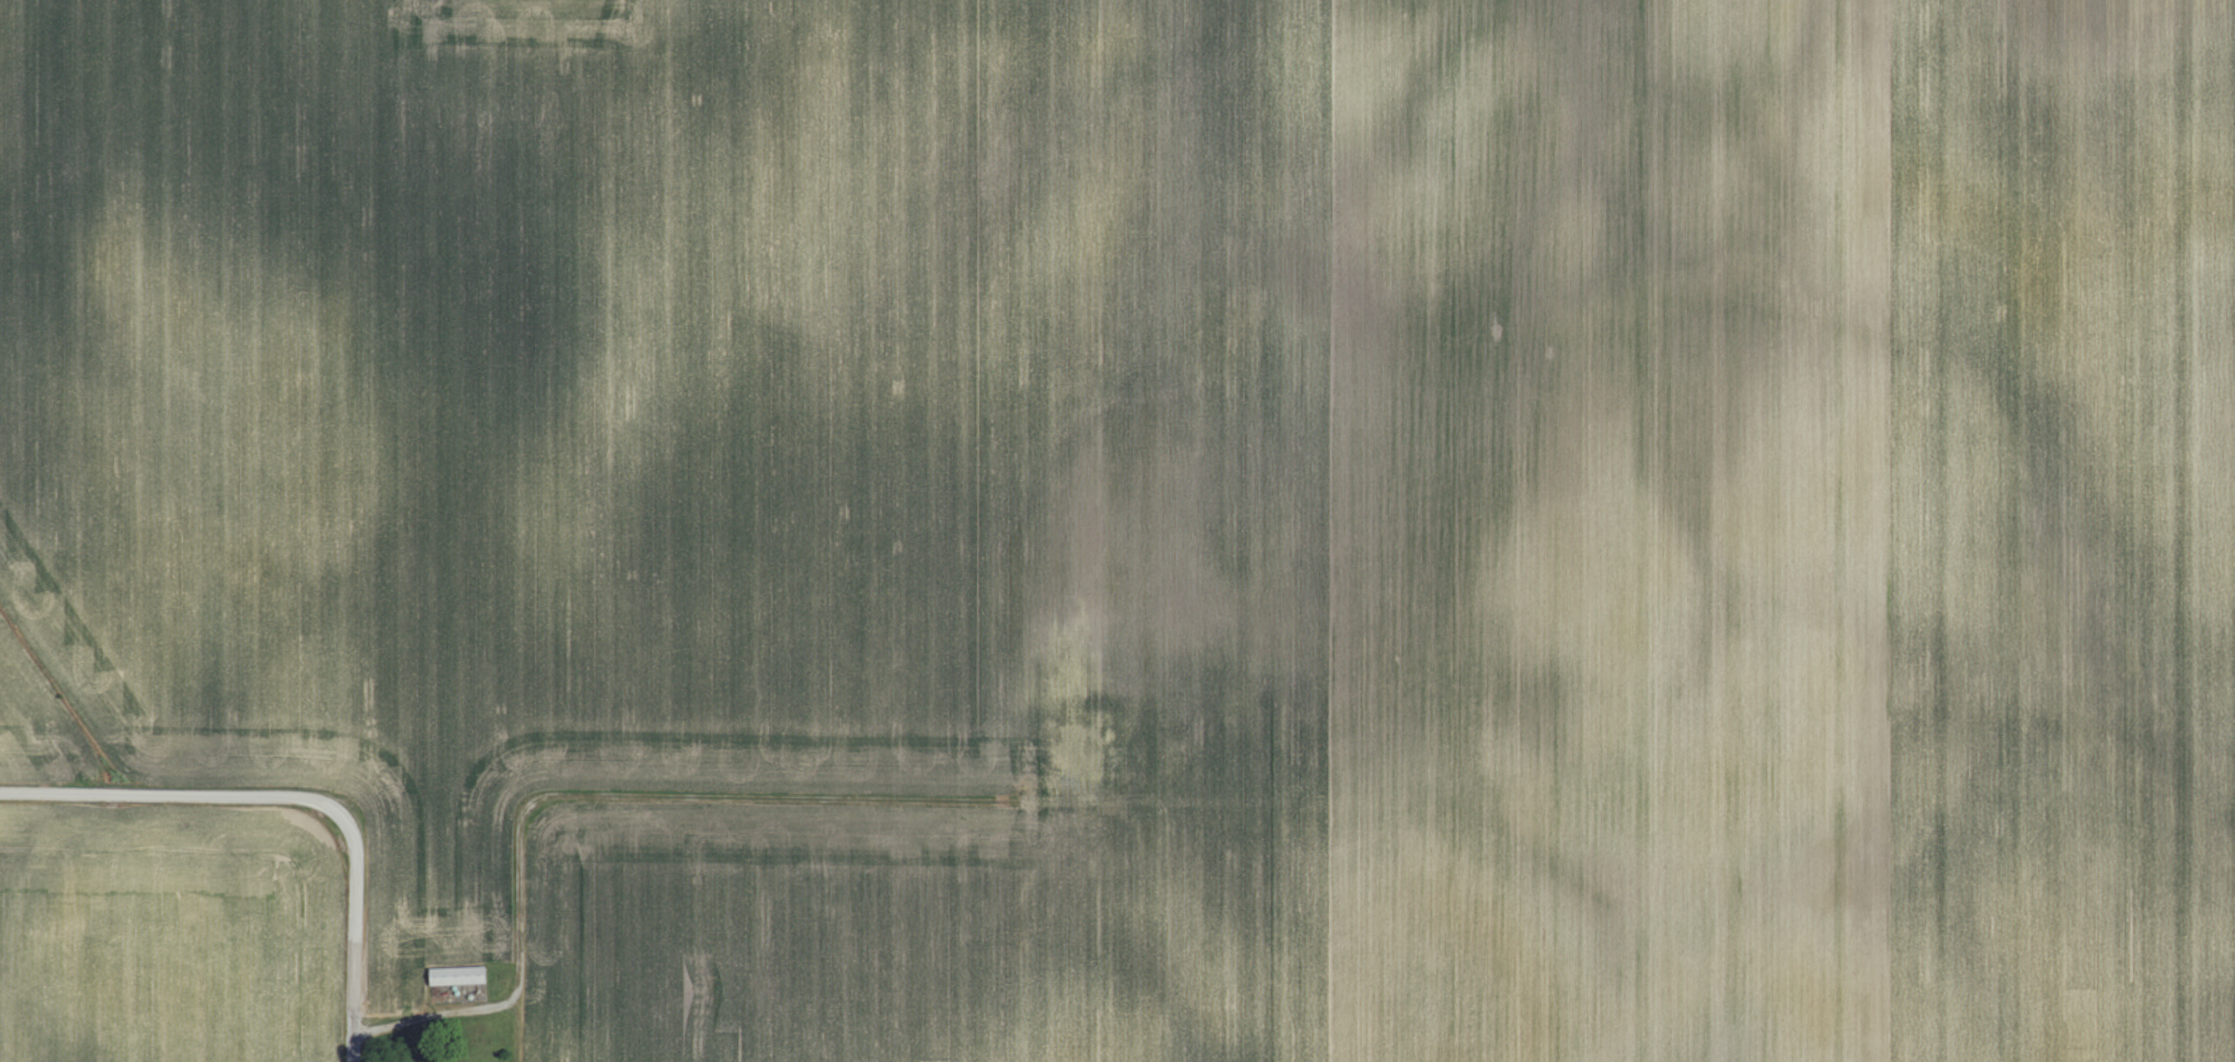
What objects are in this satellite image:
road: (626, 792)
road: (167, 793)
road: (355, 927)
building: (459, 973)

